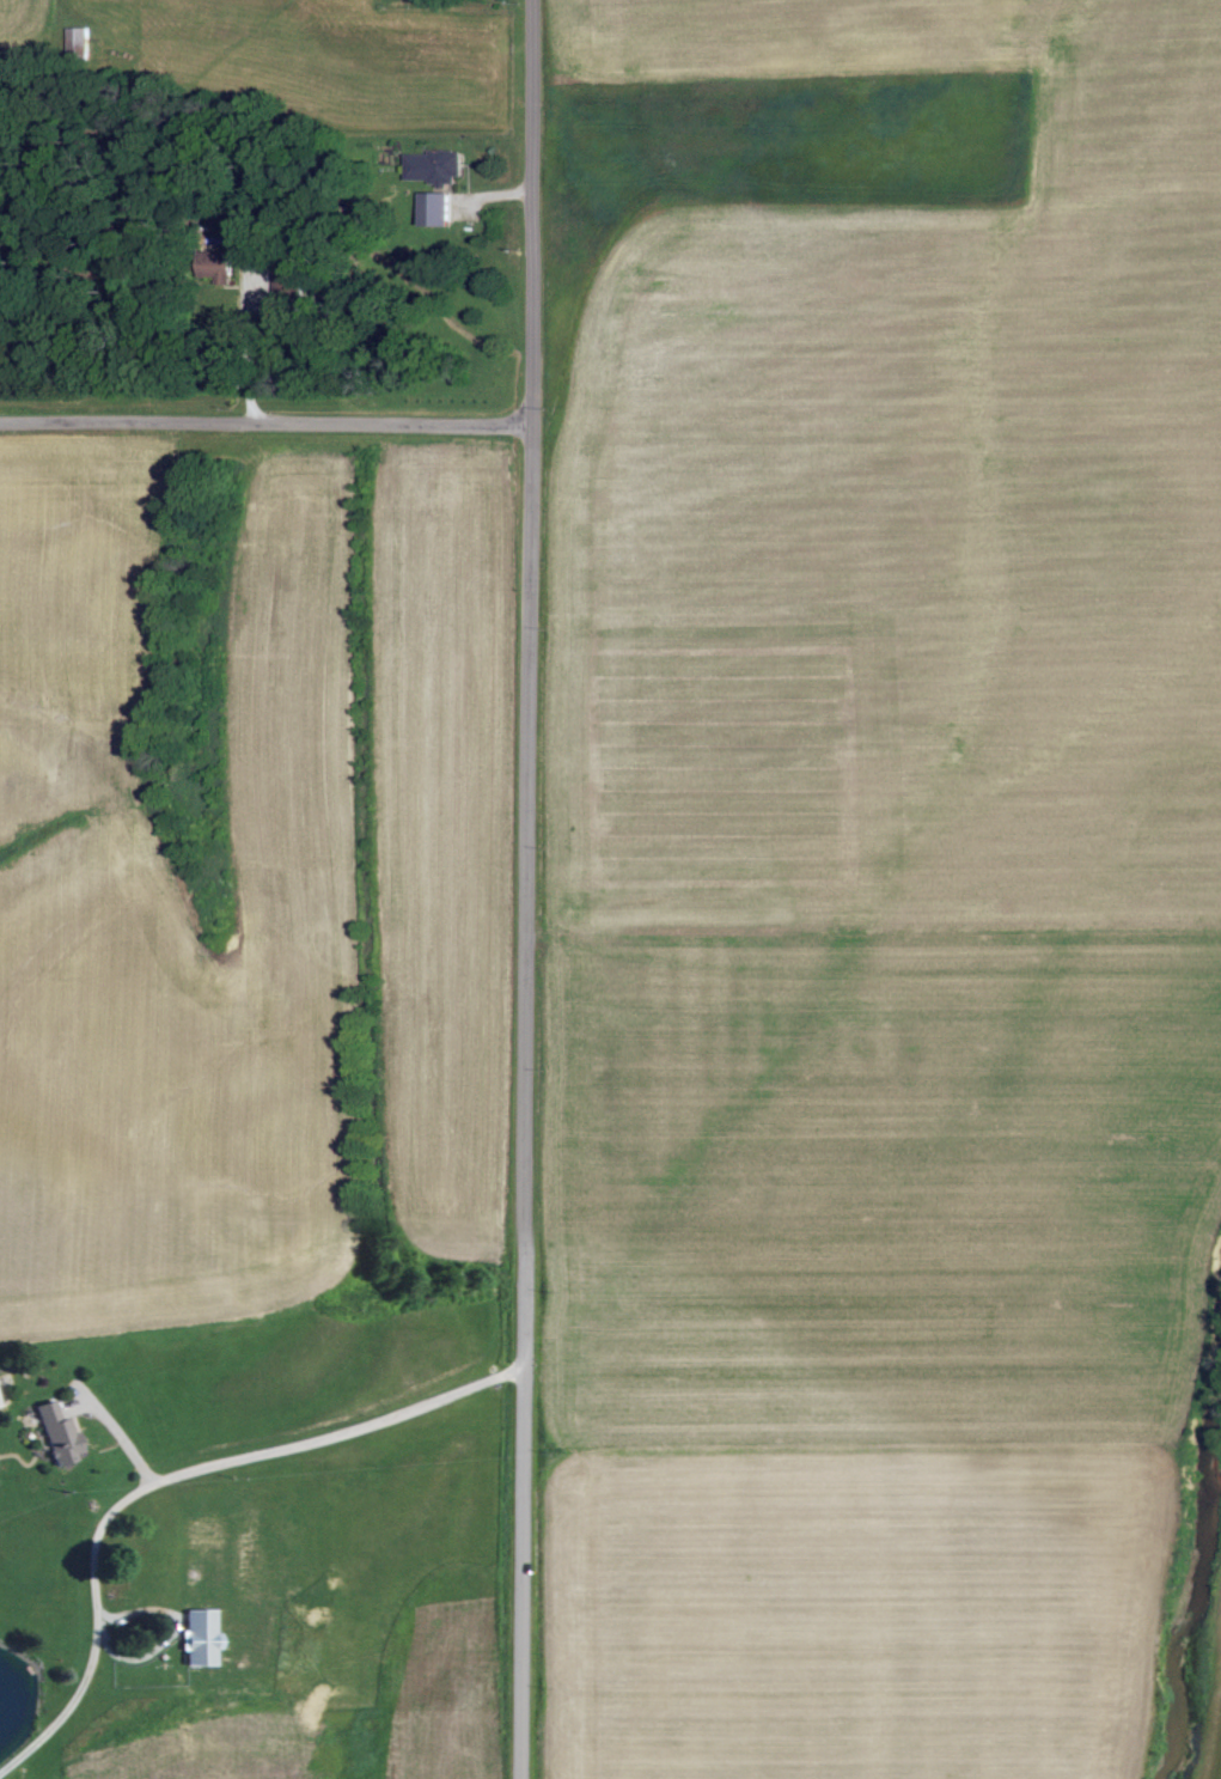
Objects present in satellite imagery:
building: (81, 38)
building: (438, 167)
building: (439, 209)
building: (222, 267)
road: (261, 359)
road: (268, 435)
road: (533, 889)
building: (0, 1407)
road: (110, 1428)
building: (59, 1436)
road: (338, 1436)
road: (97, 1632)
building: (201, 1639)

